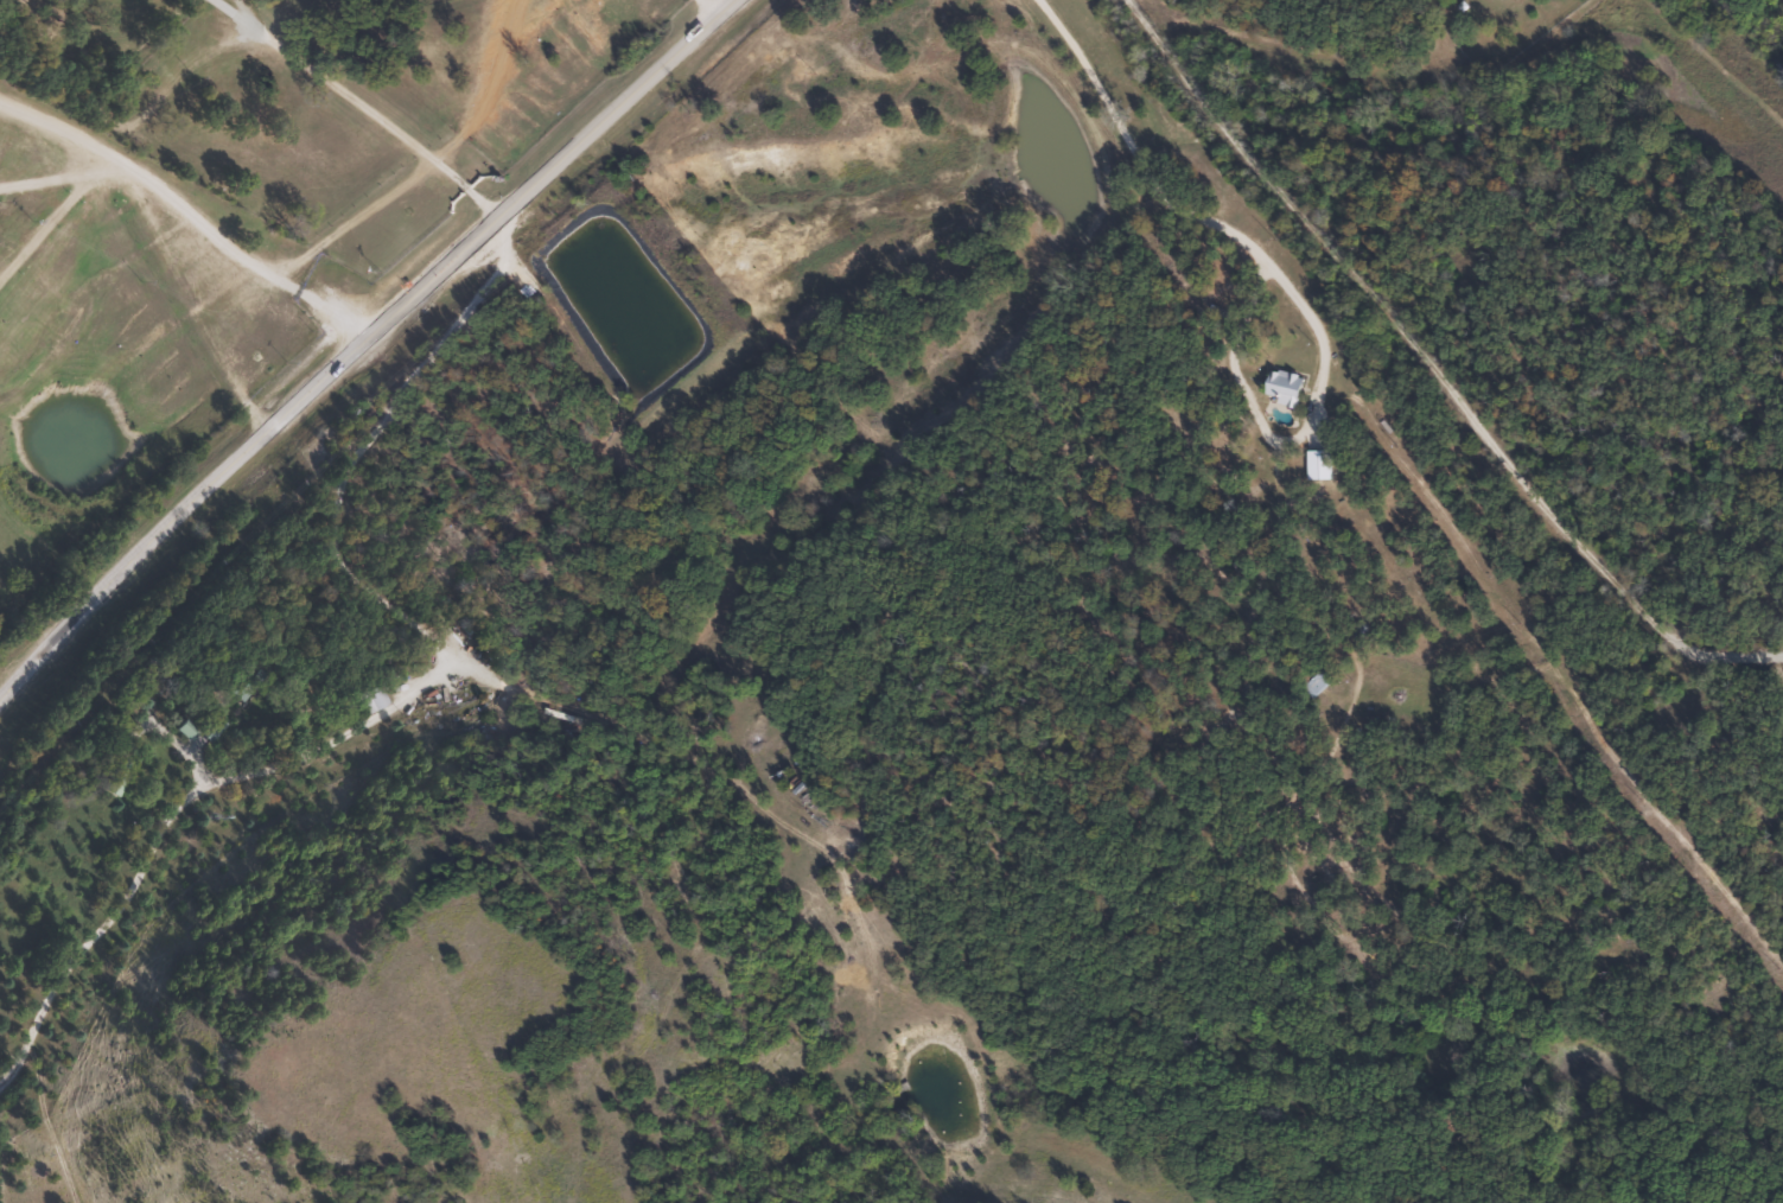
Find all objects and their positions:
road: (195, 197)
road: (359, 342)
building: (1281, 387)
building: (1310, 681)
building: (368, 699)
building: (199, 731)
building: (113, 776)
road: (108, 814)

